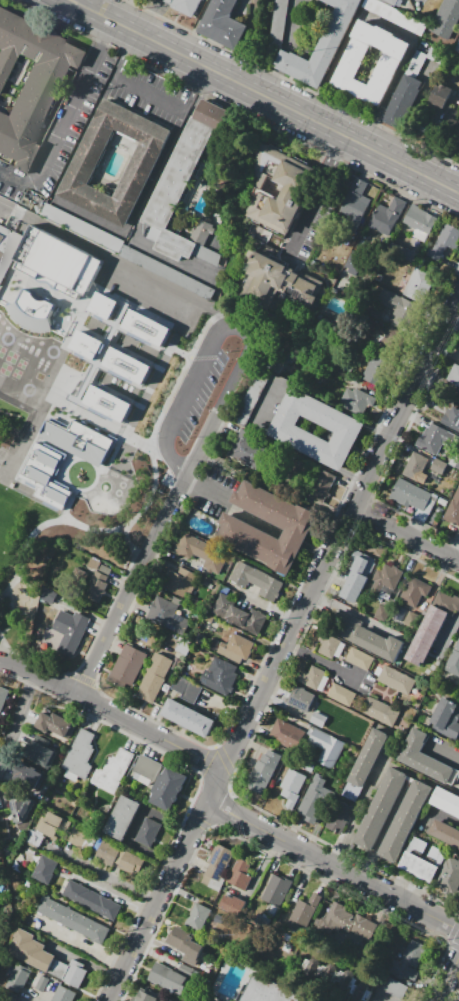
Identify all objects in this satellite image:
road: (79, 2)
building: (393, 2)
building: (185, 6)
building: (450, 8)
road: (118, 11)
road: (151, 18)
building: (222, 24)
building: (442, 25)
building: (321, 47)
building: (457, 49)
road: (121, 53)
building: (348, 65)
building: (30, 87)
road: (196, 90)
road: (149, 94)
building: (439, 95)
road: (263, 97)
building: (403, 99)
road: (71, 104)
building: (447, 118)
building: (458, 147)
building: (141, 162)
building: (183, 177)
road: (15, 178)
road: (318, 192)
building: (279, 200)
building: (356, 203)
road: (87, 216)
building: (391, 216)
building: (420, 219)
building: (74, 223)
building: (201, 231)
building: (444, 242)
building: (7, 247)
parking lot: (209, 255)
road: (115, 260)
building: (269, 270)
parking lot: (170, 273)
building: (47, 281)
building: (420, 286)
building: (300, 290)
parking lot: (152, 293)
building: (103, 305)
building: (403, 311)
building: (145, 327)
road: (236, 330)
building: (389, 341)
building: (86, 343)
building: (458, 360)
building: (126, 365)
building: (375, 370)
road: (180, 372)
building: (454, 376)
road: (232, 378)
parking lot: (196, 389)
road: (272, 397)
road: (182, 400)
building: (356, 400)
building: (107, 402)
building: (246, 407)
building: (451, 417)
building: (344, 428)
road: (378, 429)
building: (432, 439)
building: (77, 440)
building: (243, 451)
park: (1, 454)
building: (414, 467)
building: (438, 467)
building: (43, 473)
building: (291, 473)
road: (348, 476)
road: (154, 482)
building: (320, 484)
road: (180, 485)
road: (205, 488)
building: (409, 496)
road: (357, 498)
road: (66, 506)
building: (453, 511)
road: (59, 519)
building: (290, 523)
park: (13, 528)
road: (404, 537)
building: (202, 552)
road: (456, 554)
building: (385, 579)
building: (256, 581)
building: (354, 582)
building: (182, 584)
building: (95, 589)
building: (414, 592)
building: (446, 602)
building: (220, 606)
road: (271, 607)
road: (12, 612)
building: (382, 615)
building: (166, 616)
building: (246, 620)
road: (110, 624)
building: (347, 626)
building: (70, 631)
road: (450, 636)
building: (424, 638)
building: (332, 645)
building: (379, 645)
building: (456, 645)
building: (235, 649)
road: (4, 651)
building: (359, 659)
building: (452, 664)
building: (127, 667)
building: (219, 674)
building: (310, 677)
building: (152, 679)
building: (397, 680)
road: (62, 686)
building: (186, 689)
building: (341, 695)
building: (3, 697)
building: (299, 698)
building: (378, 712)
road: (15, 718)
building: (186, 719)
building: (319, 719)
building: (445, 720)
road: (245, 721)
road: (136, 723)
building: (55, 726)
building: (283, 733)
road: (168, 741)
road: (444, 747)
building: (326, 748)
road: (231, 749)
building: (39, 755)
building: (79, 756)
building: (424, 758)
road: (204, 759)
building: (364, 766)
building: (145, 770)
building: (111, 772)
building: (261, 773)
road: (216, 780)
building: (28, 781)
building: (292, 785)
building: (166, 790)
road: (1, 794)
building: (446, 801)
building: (311, 804)
building: (22, 810)
building: (380, 811)
road: (230, 812)
building: (339, 818)
building: (120, 819)
road: (196, 822)
building: (404, 822)
building: (50, 825)
road: (262, 829)
building: (148, 832)
building: (444, 834)
building: (87, 840)
road: (284, 840)
building: (106, 854)
building: (421, 861)
building: (129, 863)
road: (176, 863)
building: (216, 868)
building: (43, 870)
road: (103, 873)
building: (239, 875)
building: (447, 876)
road: (378, 888)
building: (274, 894)
building: (91, 901)
road: (156, 902)
building: (227, 904)
building: (303, 911)
building: (197, 917)
building: (335, 917)
building: (72, 921)
building: (181, 940)
building: (29, 950)
road: (126, 961)
building: (408, 964)
building: (57, 968)
building: (74, 973)
building: (333, 977)
building: (167, 978)
road: (446, 978)
building: (20, 979)
building: (41, 984)
building: (392, 987)
building: (267, 991)
building: (63, 994)
building: (147, 995)
building: (165, 1000)
building: (173, 1000)

